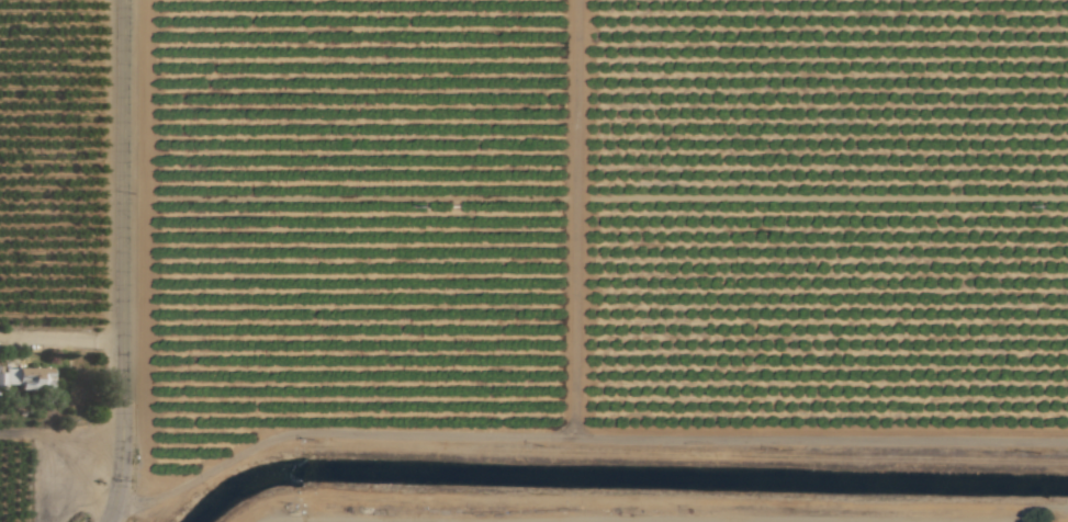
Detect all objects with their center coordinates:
road: (125, 261)
road: (63, 339)
building: (26, 379)
road: (657, 508)
road: (1020, 518)

